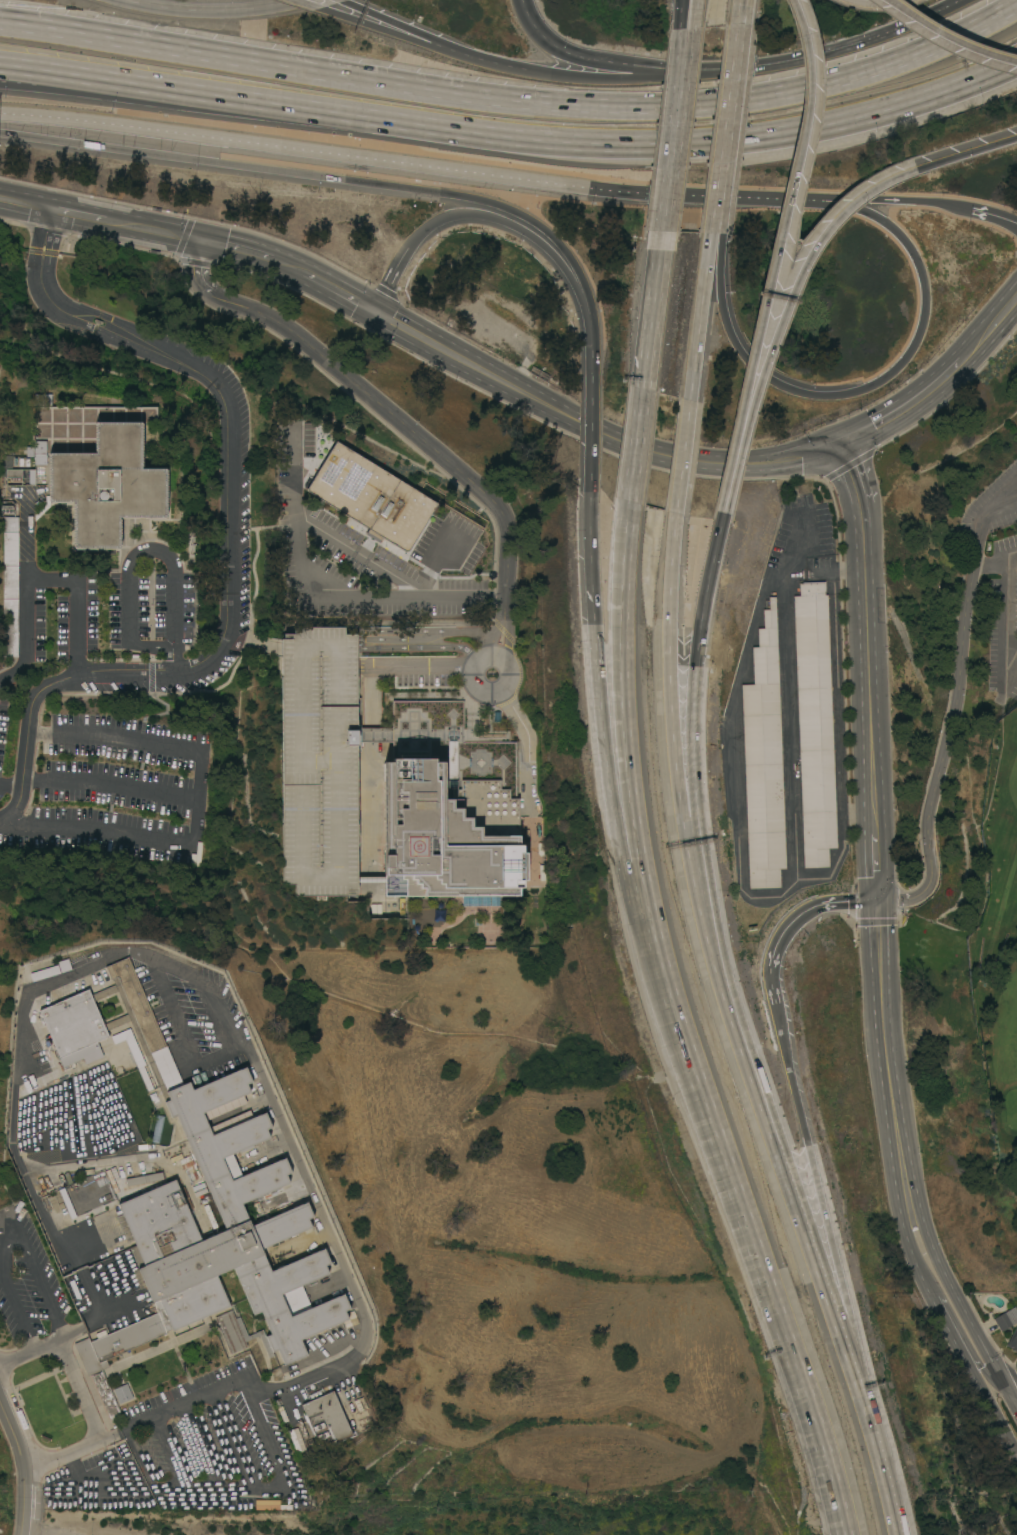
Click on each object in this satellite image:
road: (342, 1)
road: (271, 4)
road: (308, 4)
road: (876, 4)
road: (187, 9)
road: (695, 12)
road: (679, 13)
road: (741, 13)
road: (432, 37)
road: (949, 37)
road: (420, 42)
road: (841, 49)
road: (736, 53)
road: (603, 61)
road: (81, 76)
road: (616, 80)
road: (969, 80)
road: (81, 84)
road: (671, 100)
road: (683, 100)
road: (514, 103)
road: (542, 138)
road: (966, 152)
road: (726, 157)
road: (721, 158)
road: (398, 163)
road: (344, 178)
road: (882, 199)
road: (665, 202)
road: (25, 203)
road: (82, 214)
road: (991, 214)
road: (46, 229)
road: (156, 229)
road: (527, 233)
road: (234, 245)
road: (775, 252)
road: (299, 269)
road: (389, 280)
road: (351, 297)
road: (651, 308)
traffic signals: (374, 310)
road: (783, 311)
road: (699, 316)
road: (993, 323)
road: (591, 369)
road: (878, 380)
building: (43, 399)
road: (908, 404)
road: (594, 429)
road: (590, 435)
traffic signals: (837, 442)
road: (634, 444)
road: (681, 456)
building: (6, 461)
road: (851, 472)
building: (19, 476)
building: (108, 484)
road: (1000, 494)
building: (371, 496)
road: (722, 509)
road: (507, 523)
road: (161, 554)
road: (362, 558)
road: (229, 562)
road: (989, 566)
road: (40, 578)
building: (10, 586)
road: (1006, 603)
road: (504, 623)
road: (461, 634)
road: (420, 641)
road: (153, 644)
road: (866, 658)
road: (693, 664)
road: (415, 670)
road: (597, 673)
road: (1008, 675)
road: (790, 689)
road: (474, 700)
road: (837, 705)
road: (953, 711)
building: (814, 722)
road: (627, 736)
road: (533, 755)
building: (764, 759)
building: (320, 761)
road: (738, 768)
road: (11, 784)
road: (113, 786)
road: (200, 811)
road: (856, 814)
building: (449, 833)
road: (687, 857)
road: (873, 857)
traffic signals: (875, 901)
road: (638, 913)
road: (809, 913)
park: (998, 974)
road: (774, 987)
building: (137, 1002)
road: (734, 1003)
road: (880, 1003)
building: (74, 1022)
road: (899, 1152)
road: (822, 1212)
road: (12, 1232)
building: (213, 1242)
road: (754, 1250)
road: (912, 1250)
road: (826, 1302)
road: (961, 1306)
building: (1006, 1317)
building: (230, 1331)
road: (952, 1334)
building: (1013, 1339)
road: (1001, 1368)
traffic signals: (984, 1378)
road: (993, 1383)
road: (218, 1385)
building: (123, 1392)
road: (80, 1397)
road: (993, 1409)
building: (327, 1419)
building: (297, 1439)
road: (25, 1463)
road: (883, 1476)
building: (268, 1503)

